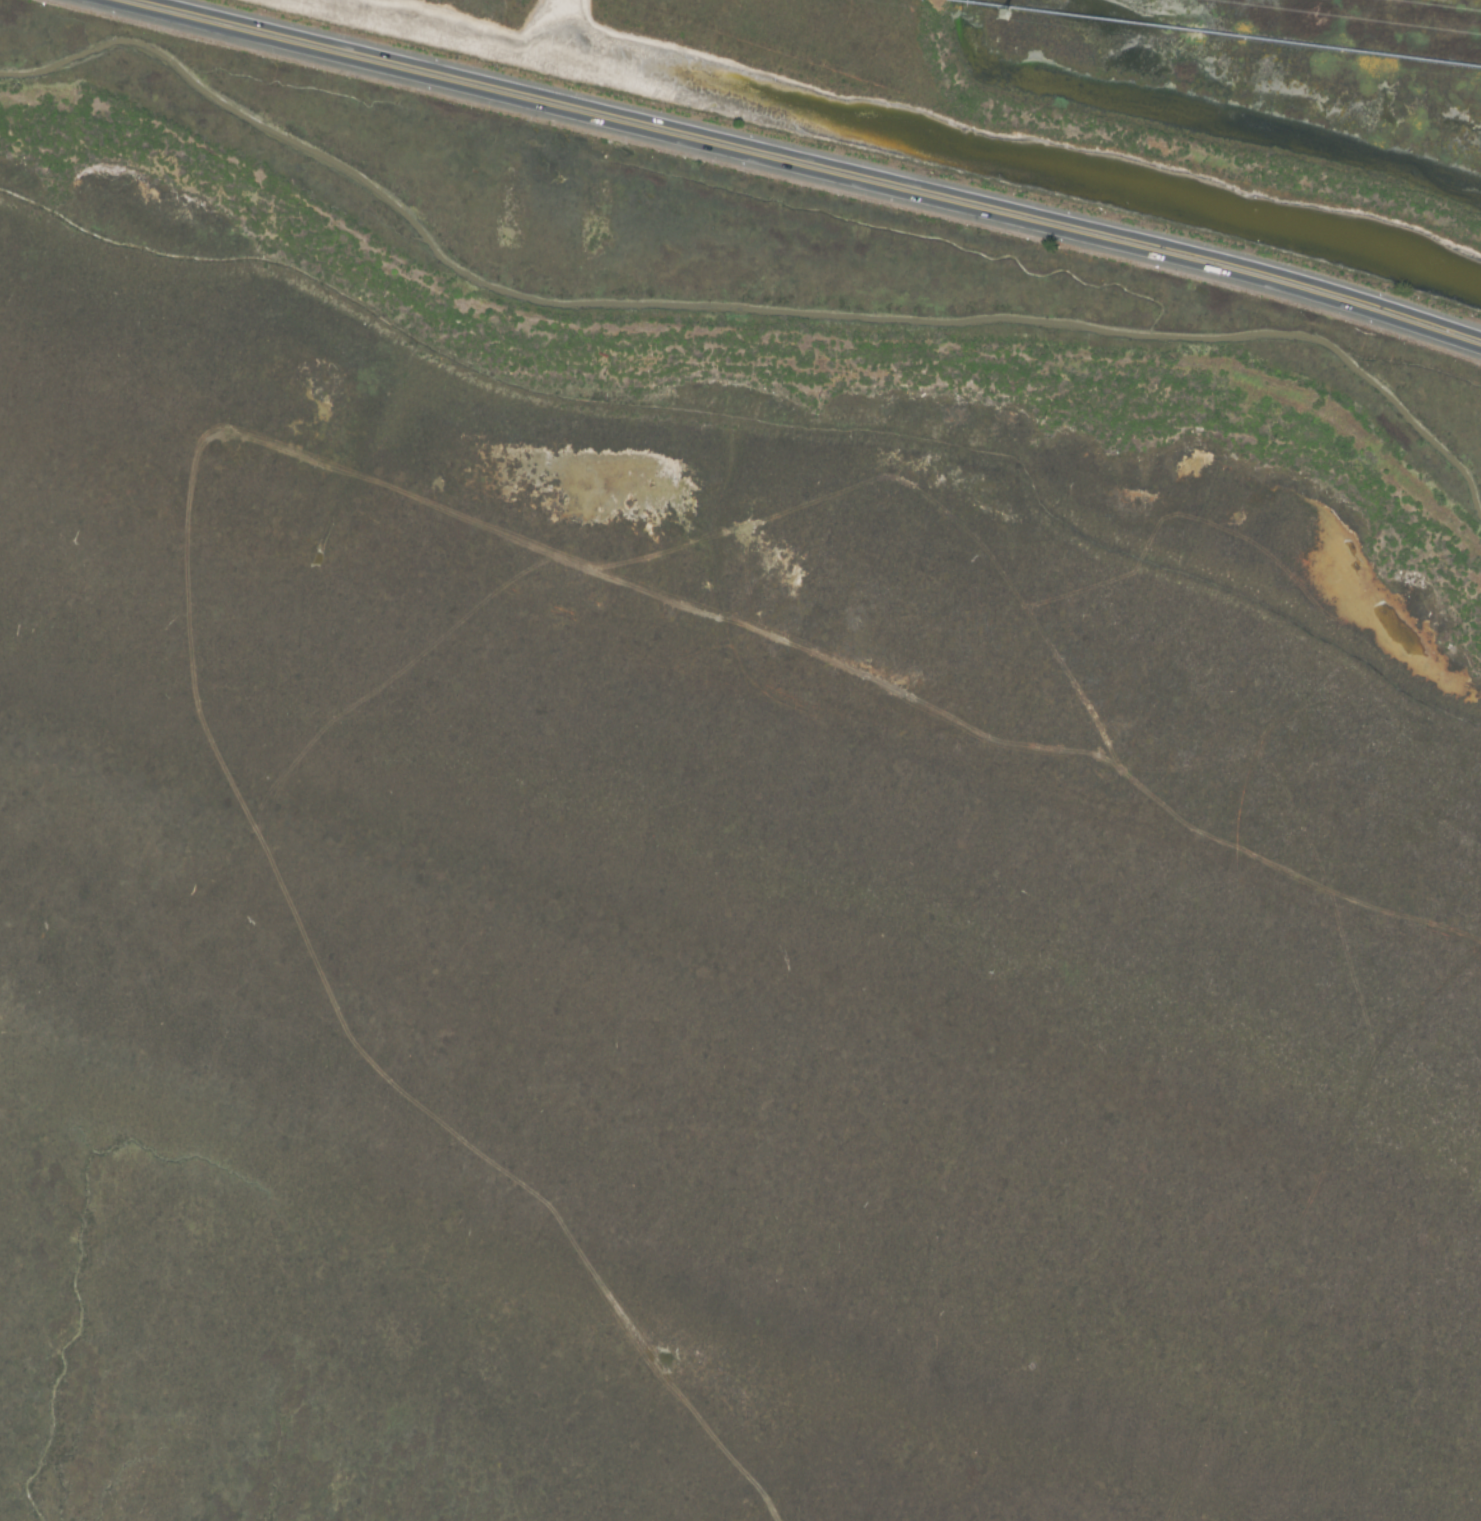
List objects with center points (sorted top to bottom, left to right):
power tower: (1008, 18)
road: (808, 164)
road: (776, 171)

